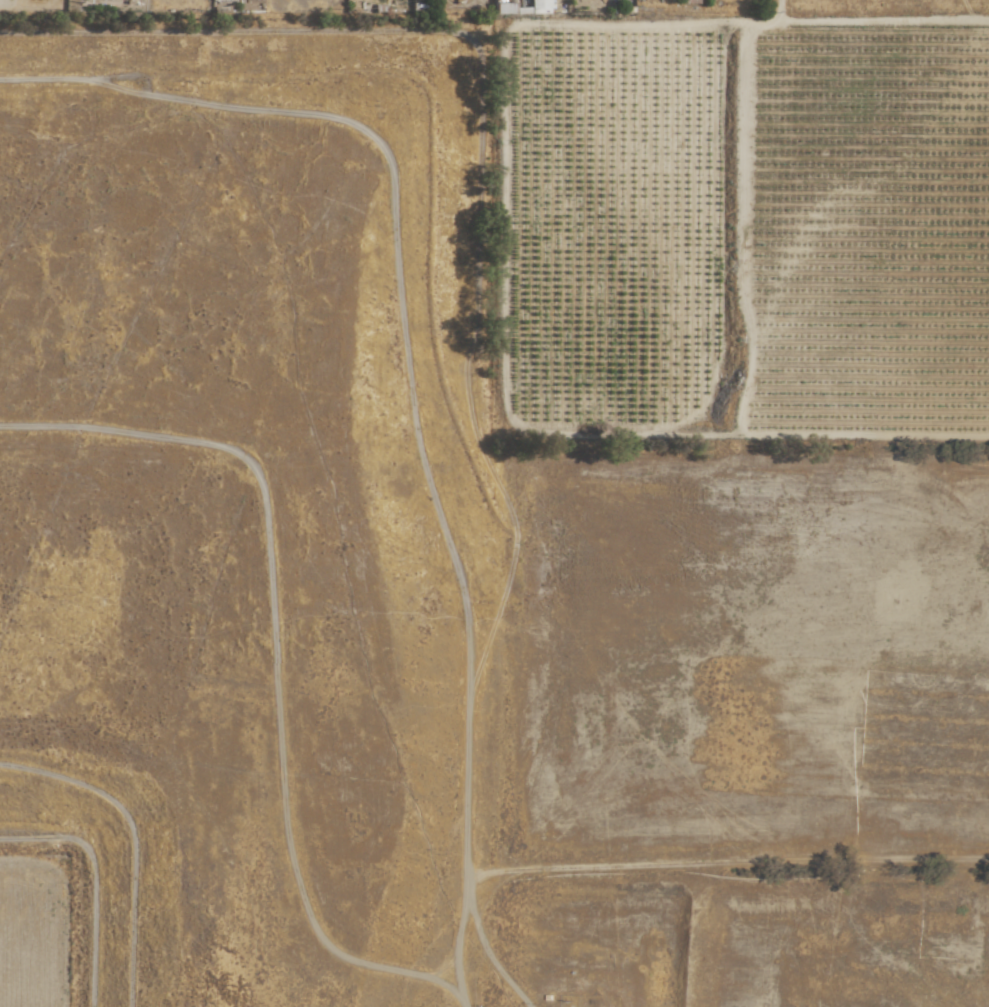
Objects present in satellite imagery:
road: (496, 4)
building: (523, 7)

